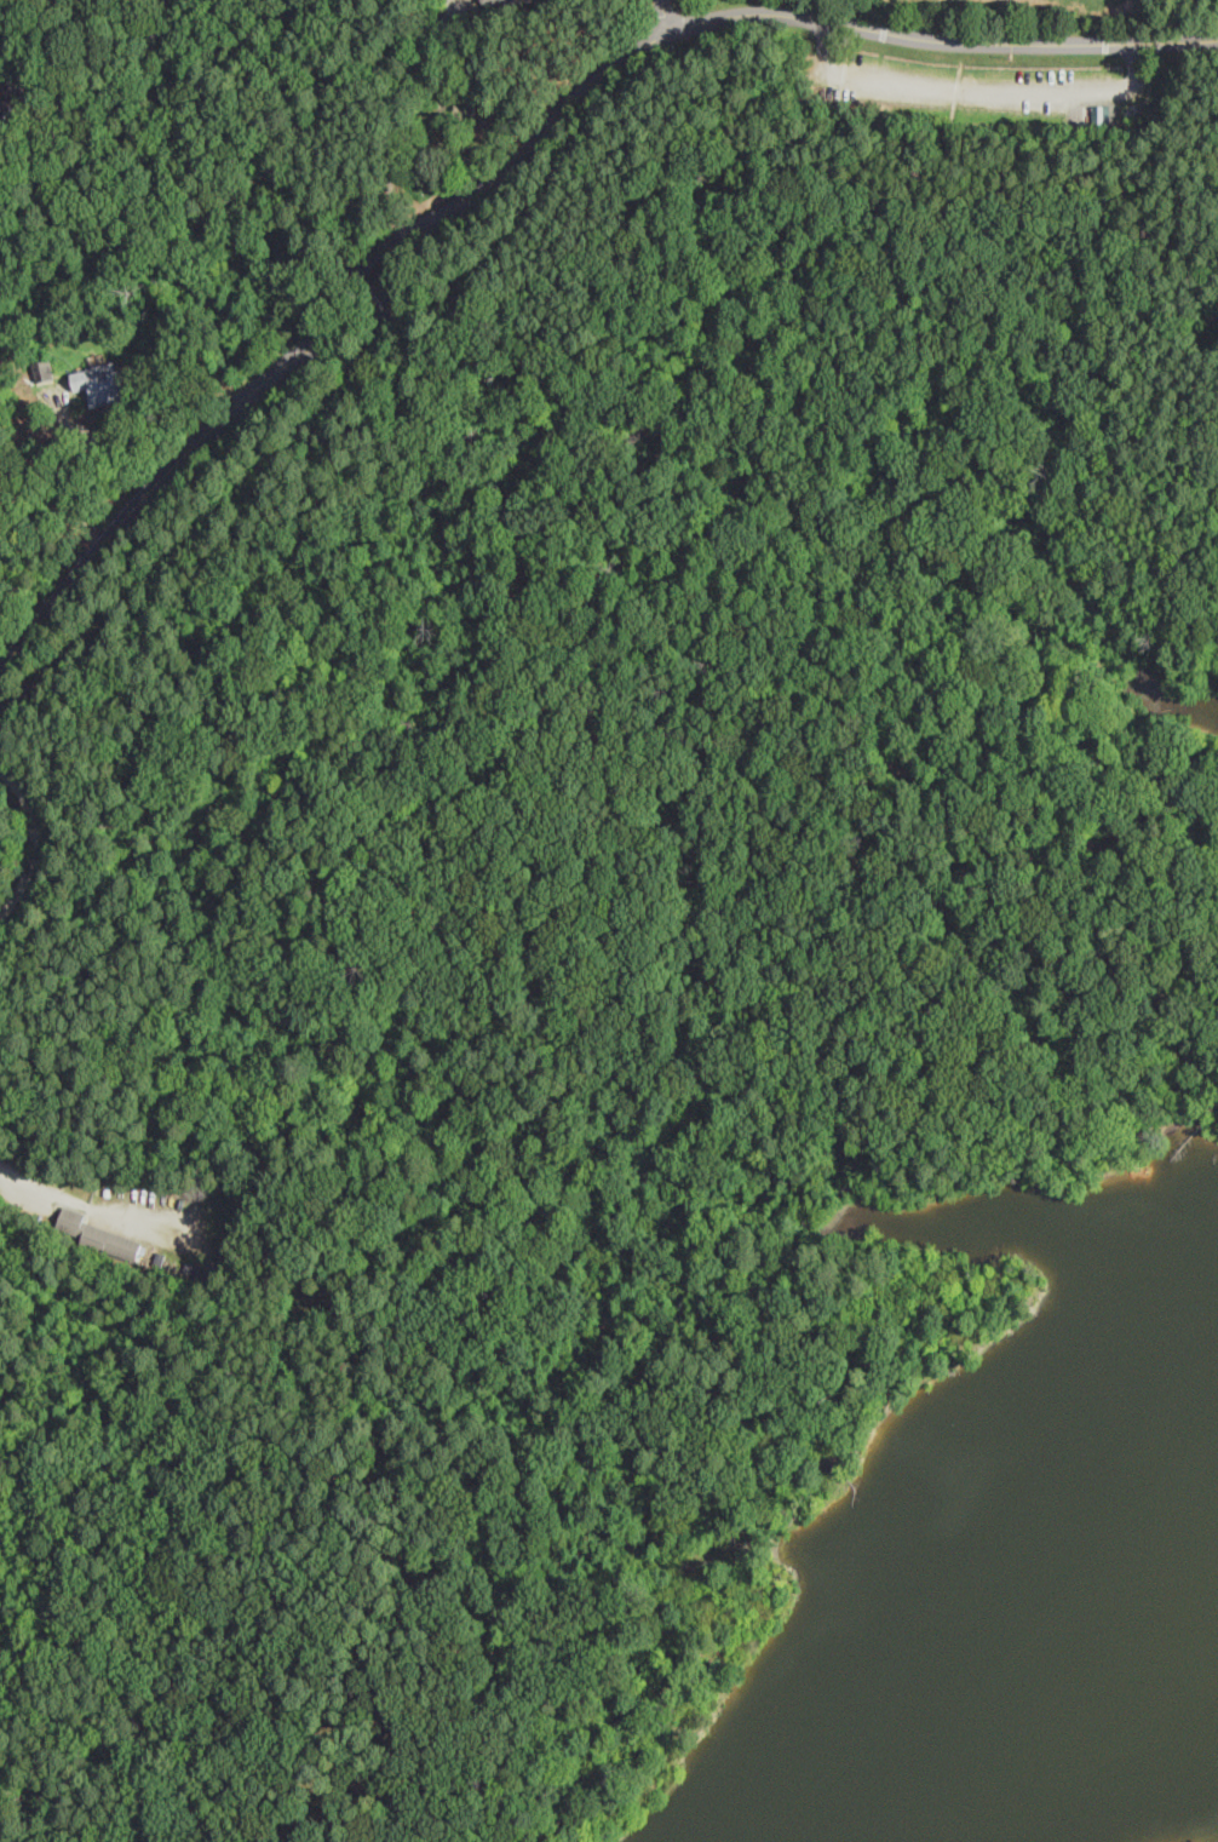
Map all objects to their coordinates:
building: (509, 1)
road: (665, 10)
road: (766, 13)
road: (1214, 39)
road: (1214, 41)
building: (15, 93)
road: (975, 93)
road: (350, 291)
road: (379, 293)
road: (383, 322)
building: (103, 383)
road: (70, 488)
road: (148, 509)
road: (908, 572)
road: (496, 711)
road: (35, 840)
park: (591, 882)
road: (937, 895)
road: (24, 1189)
building: (100, 1236)
road: (855, 1292)

